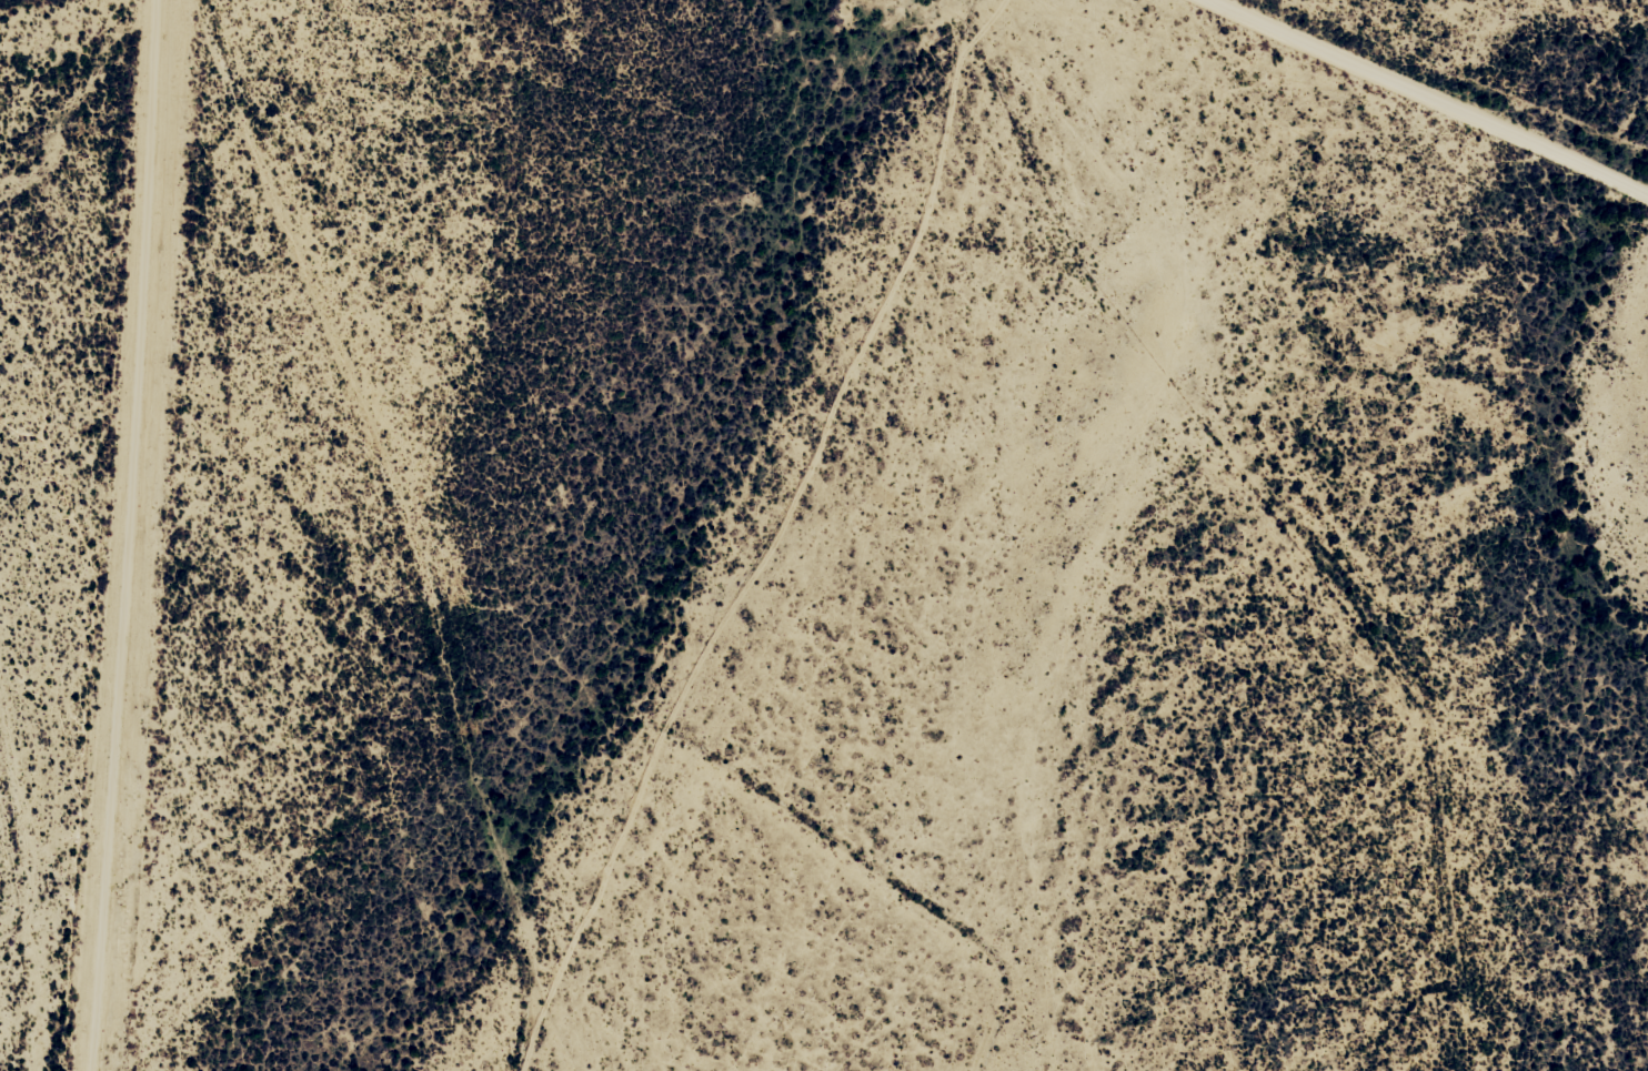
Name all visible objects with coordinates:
road: (1440, 99)
road: (434, 527)
airport runway: (127, 535)

